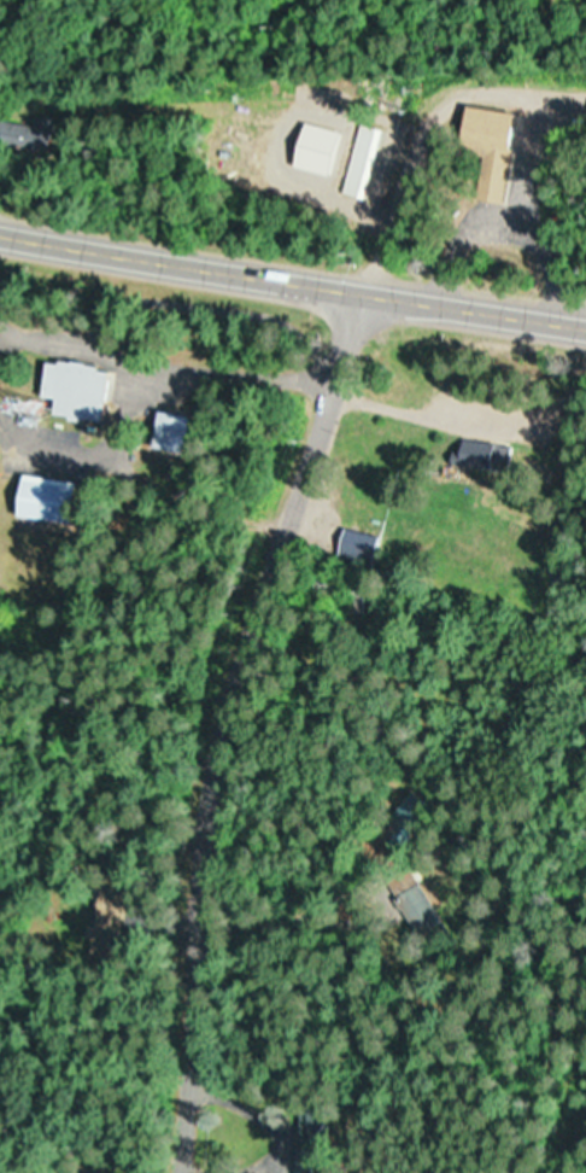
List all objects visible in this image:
road: (428, 127)
building: (482, 152)
building: (361, 163)
road: (561, 273)
road: (292, 274)
road: (176, 307)
building: (82, 390)
building: (178, 432)
building: (53, 498)
building: (357, 547)
road: (225, 719)
road: (106, 753)
airport: (20, 909)
building: (423, 912)
road: (558, 1073)

